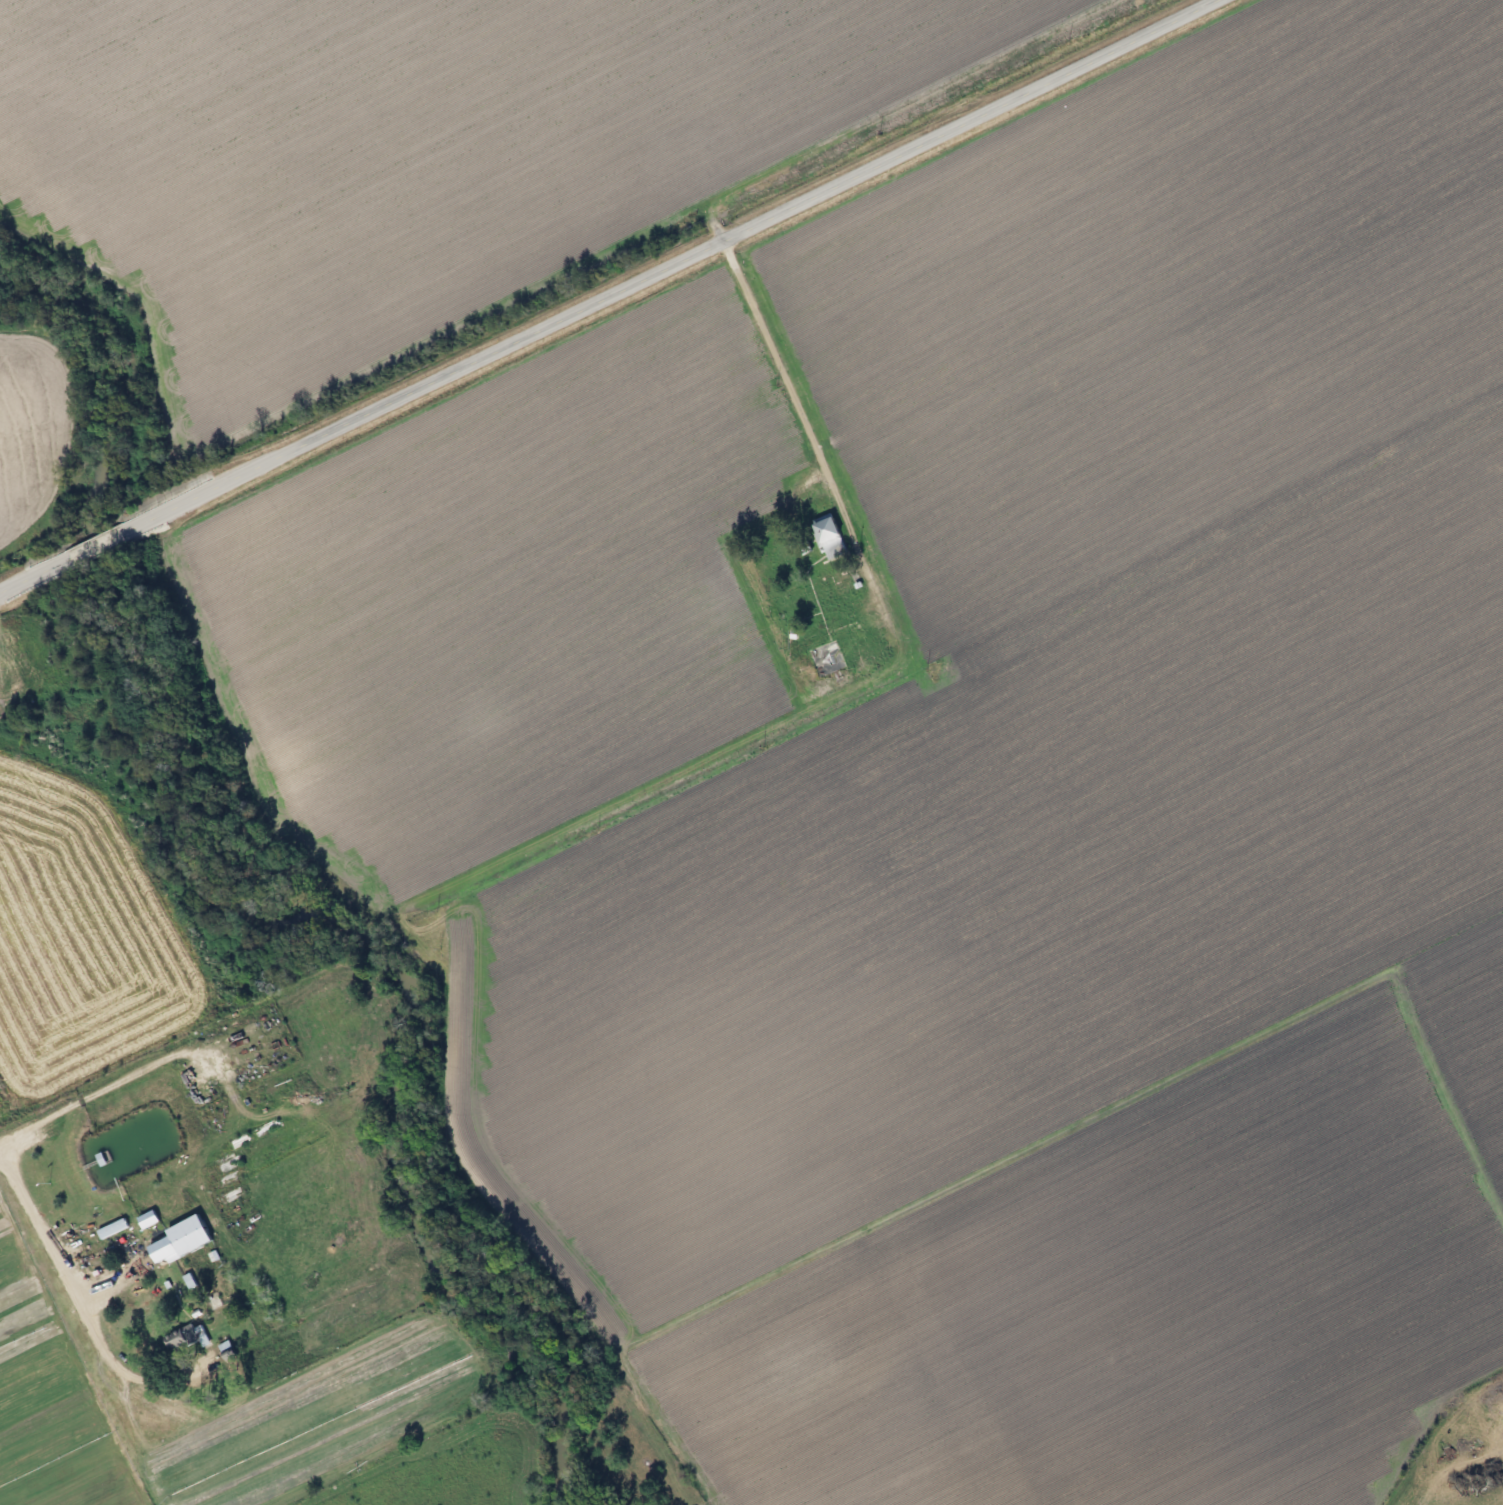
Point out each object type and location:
road: (602, 294)
road: (786, 379)
building: (823, 537)
building: (97, 1158)
building: (172, 1240)
road: (60, 1261)
building: (1501, 1394)

